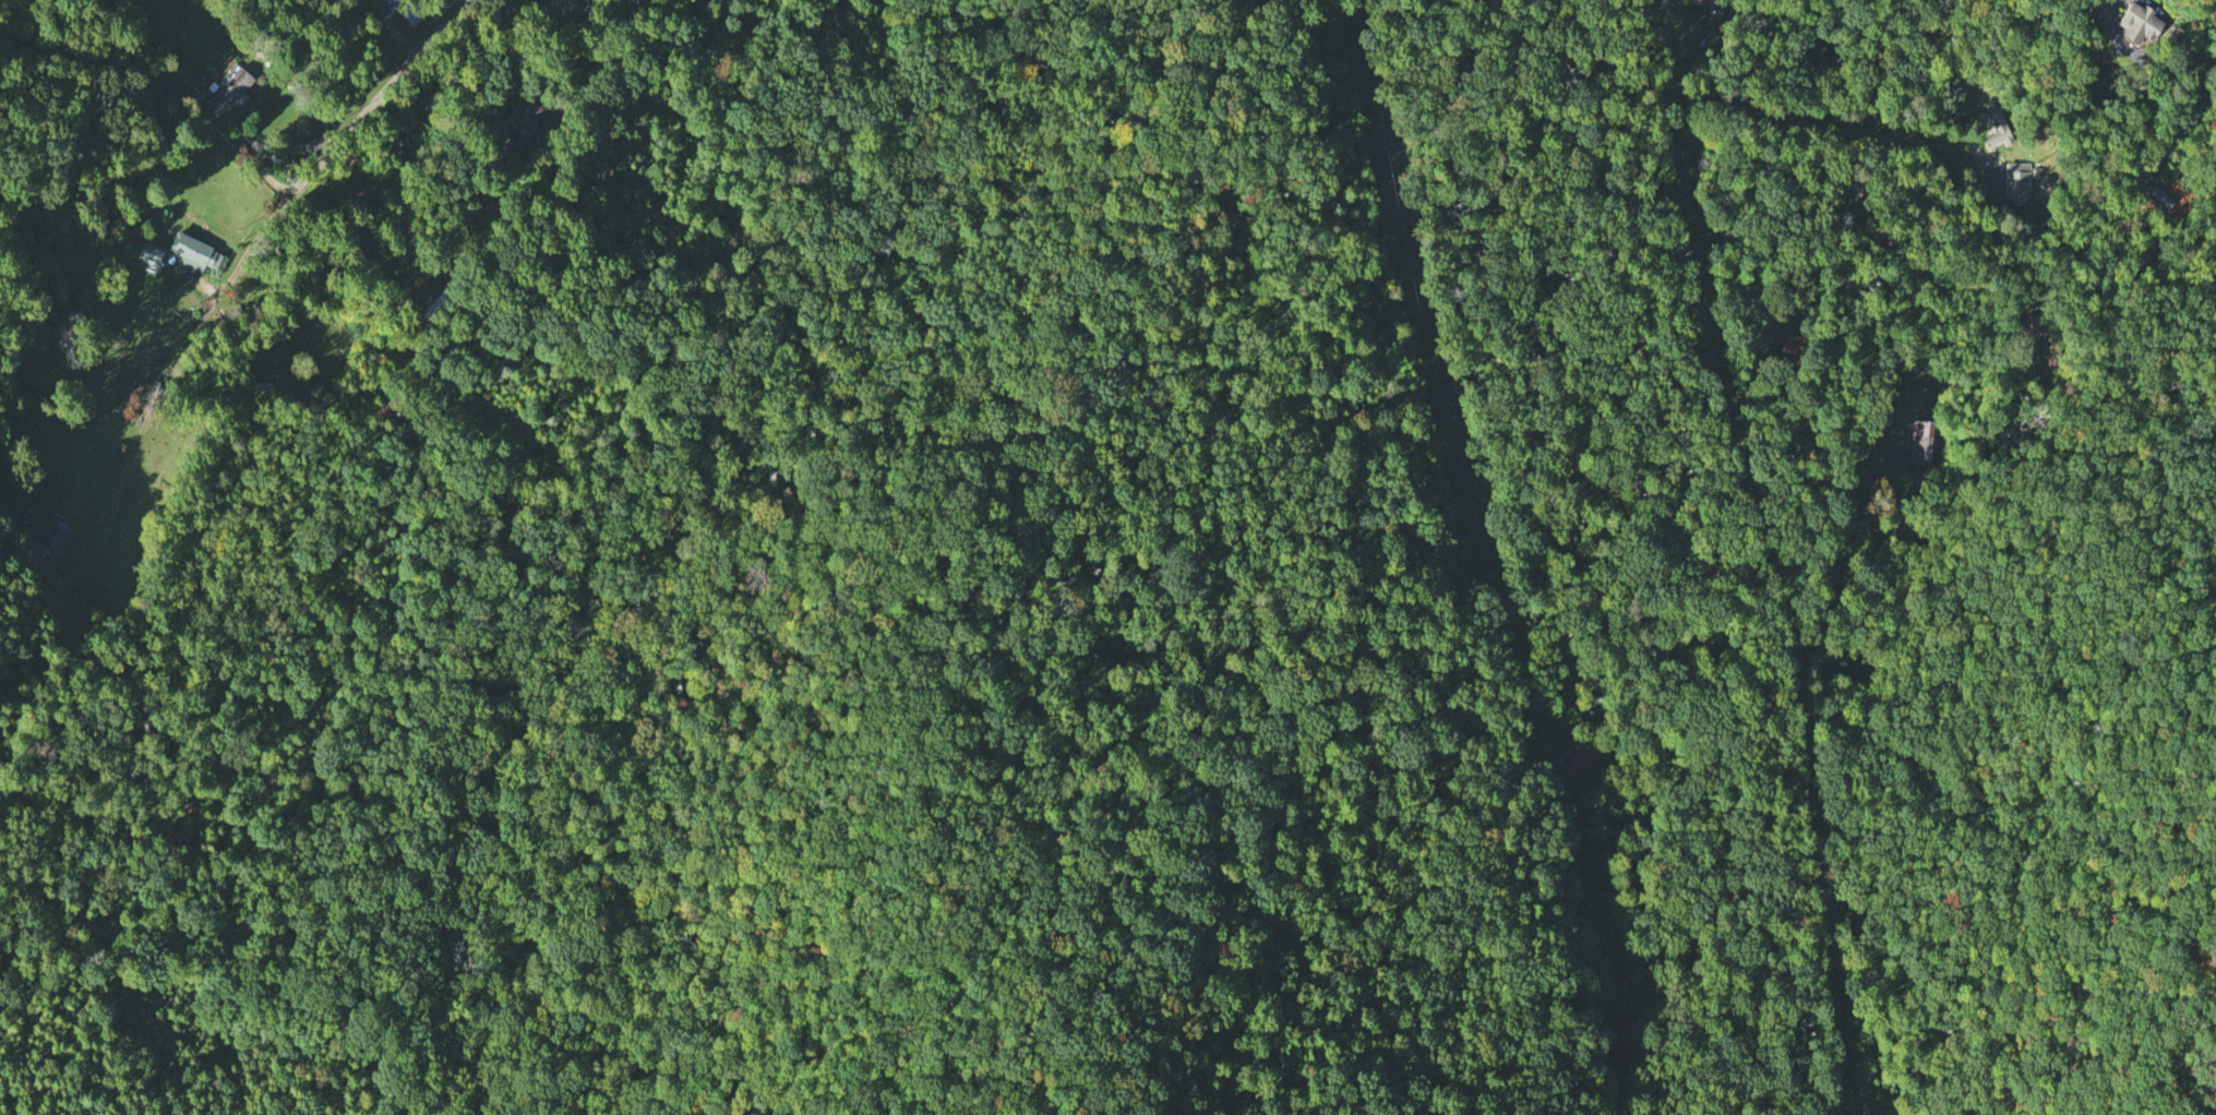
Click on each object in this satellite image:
building: (412, 11)
building: (2139, 21)
road: (398, 28)
road: (165, 67)
road: (478, 69)
road: (2145, 81)
building: (232, 88)
road: (2195, 95)
road: (379, 96)
road: (483, 110)
building: (524, 116)
road: (1796, 116)
building: (1997, 123)
road: (1964, 131)
building: (2017, 183)
road: (363, 226)
road: (1998, 230)
building: (194, 250)
building: (148, 251)
road: (190, 341)
building: (1922, 440)
road: (451, 532)
road: (1832, 553)
road: (2206, 1067)

